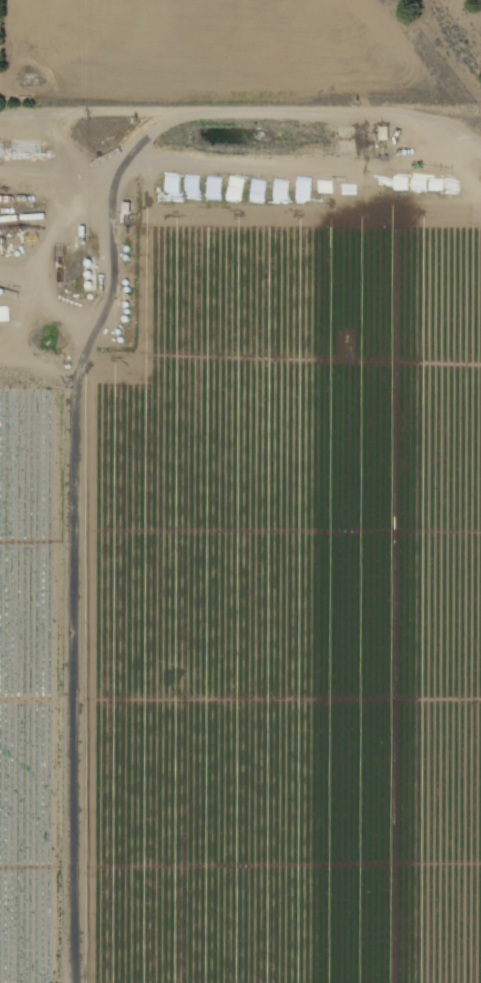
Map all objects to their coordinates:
road: (243, 115)

